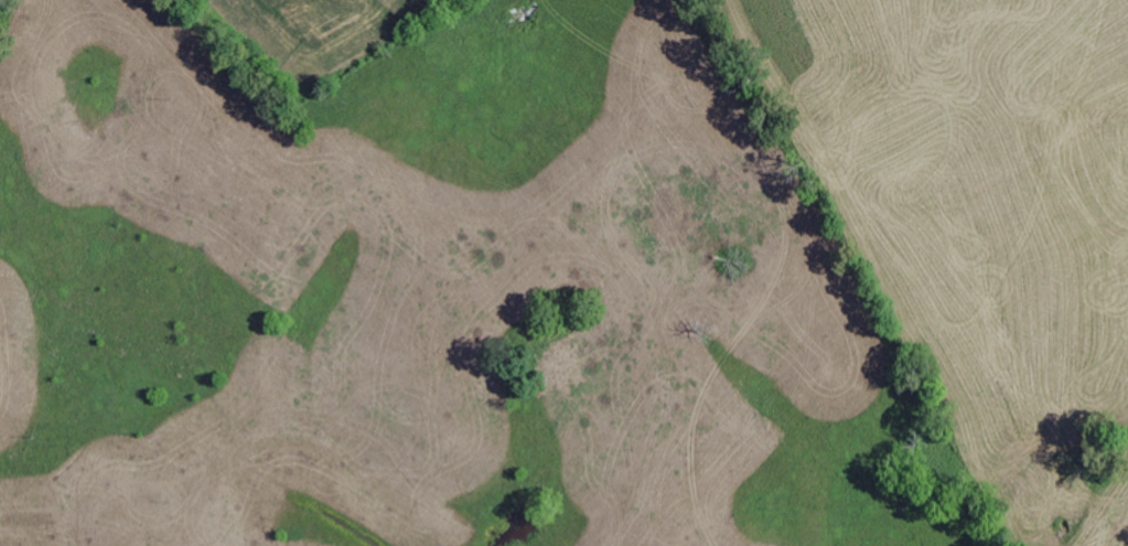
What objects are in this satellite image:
road: (1079, 465)

